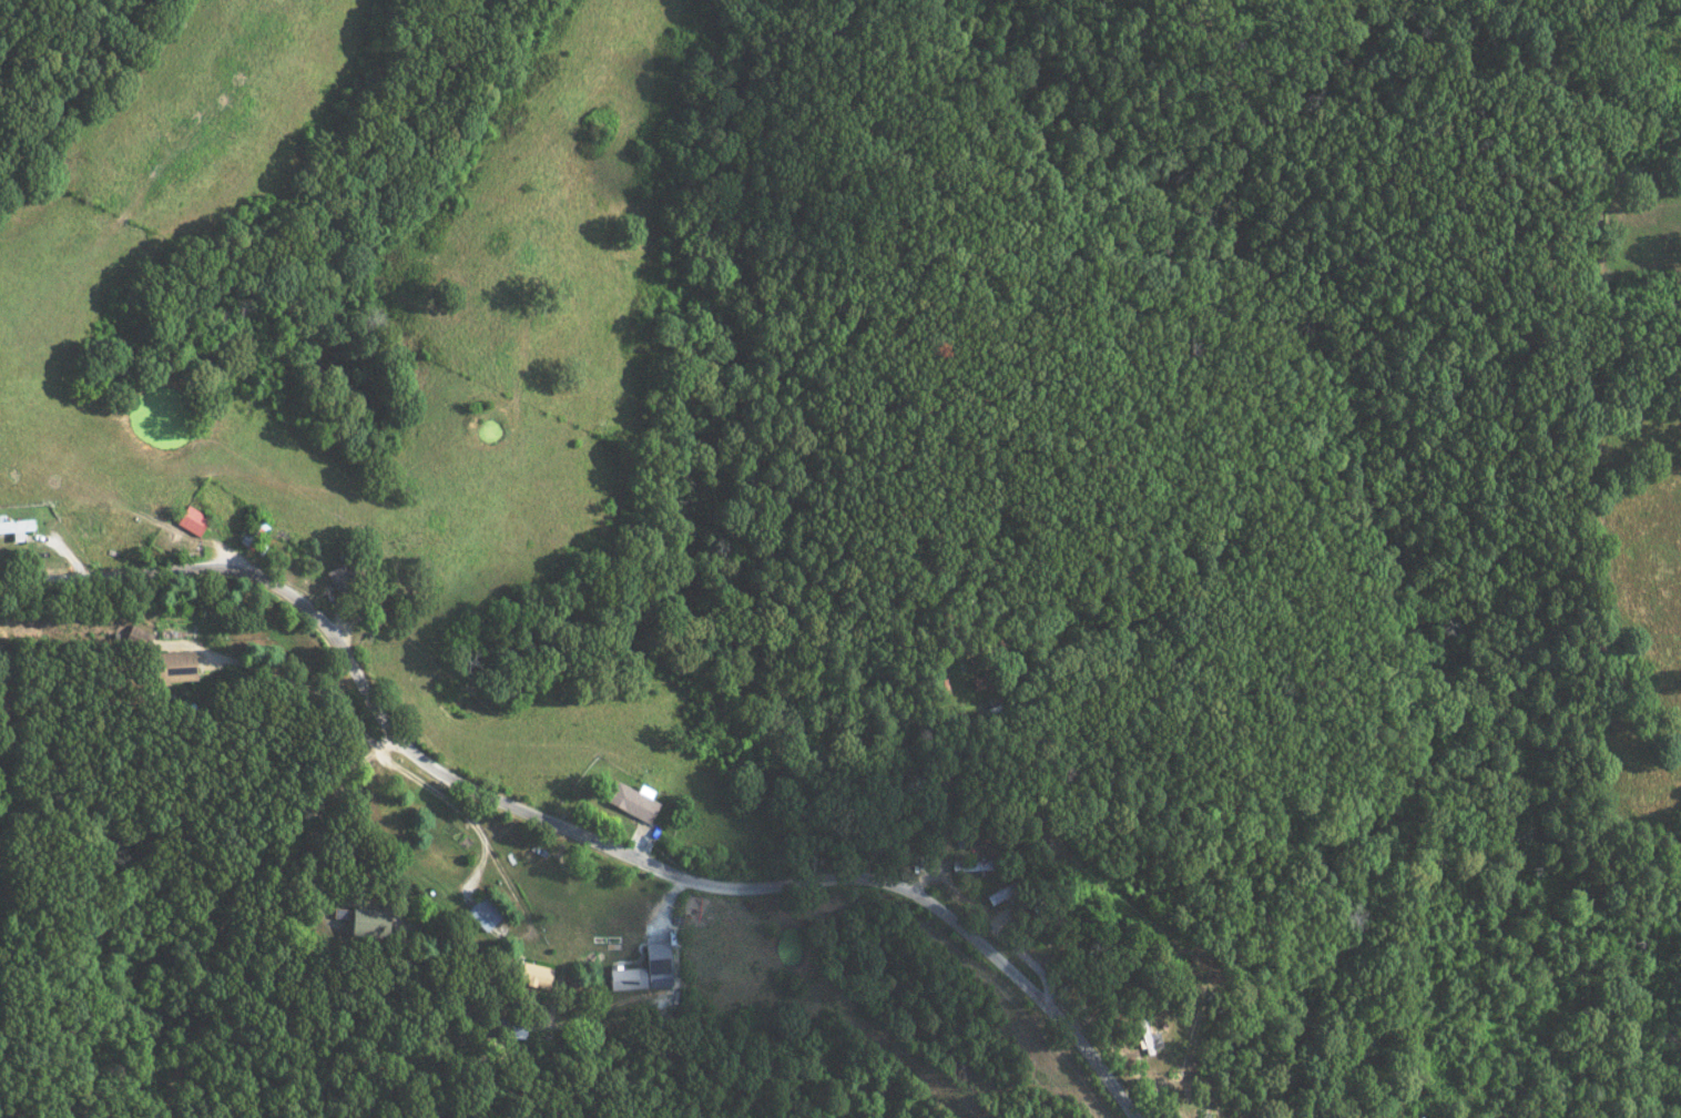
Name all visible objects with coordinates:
building: (189, 518)
building: (13, 527)
building: (335, 573)
building: (170, 664)
road: (573, 829)
building: (966, 864)
building: (481, 912)
building: (366, 922)
building: (638, 967)
building: (530, 974)
road: (549, 1019)

